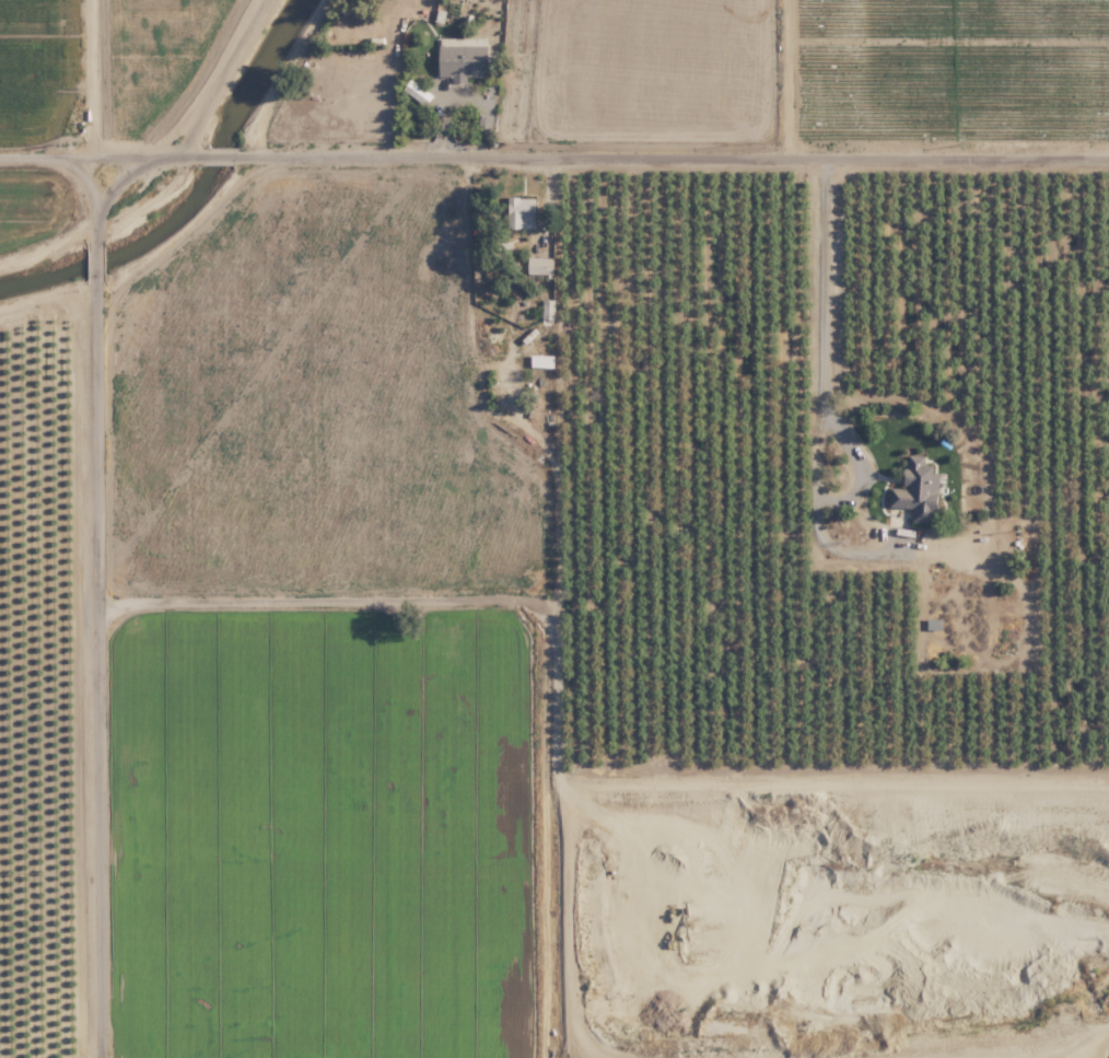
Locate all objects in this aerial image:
crop: (37, 62)
crop: (947, 67)
crop: (548, 68)
road: (220, 71)
road: (392, 71)
road: (222, 143)
road: (103, 144)
road: (673, 146)
road: (87, 187)
building: (521, 212)
road: (96, 247)
building: (539, 265)
building: (547, 307)
building: (540, 360)
road: (825, 392)
road: (859, 461)
building: (919, 490)
crop: (39, 632)
road: (100, 662)

